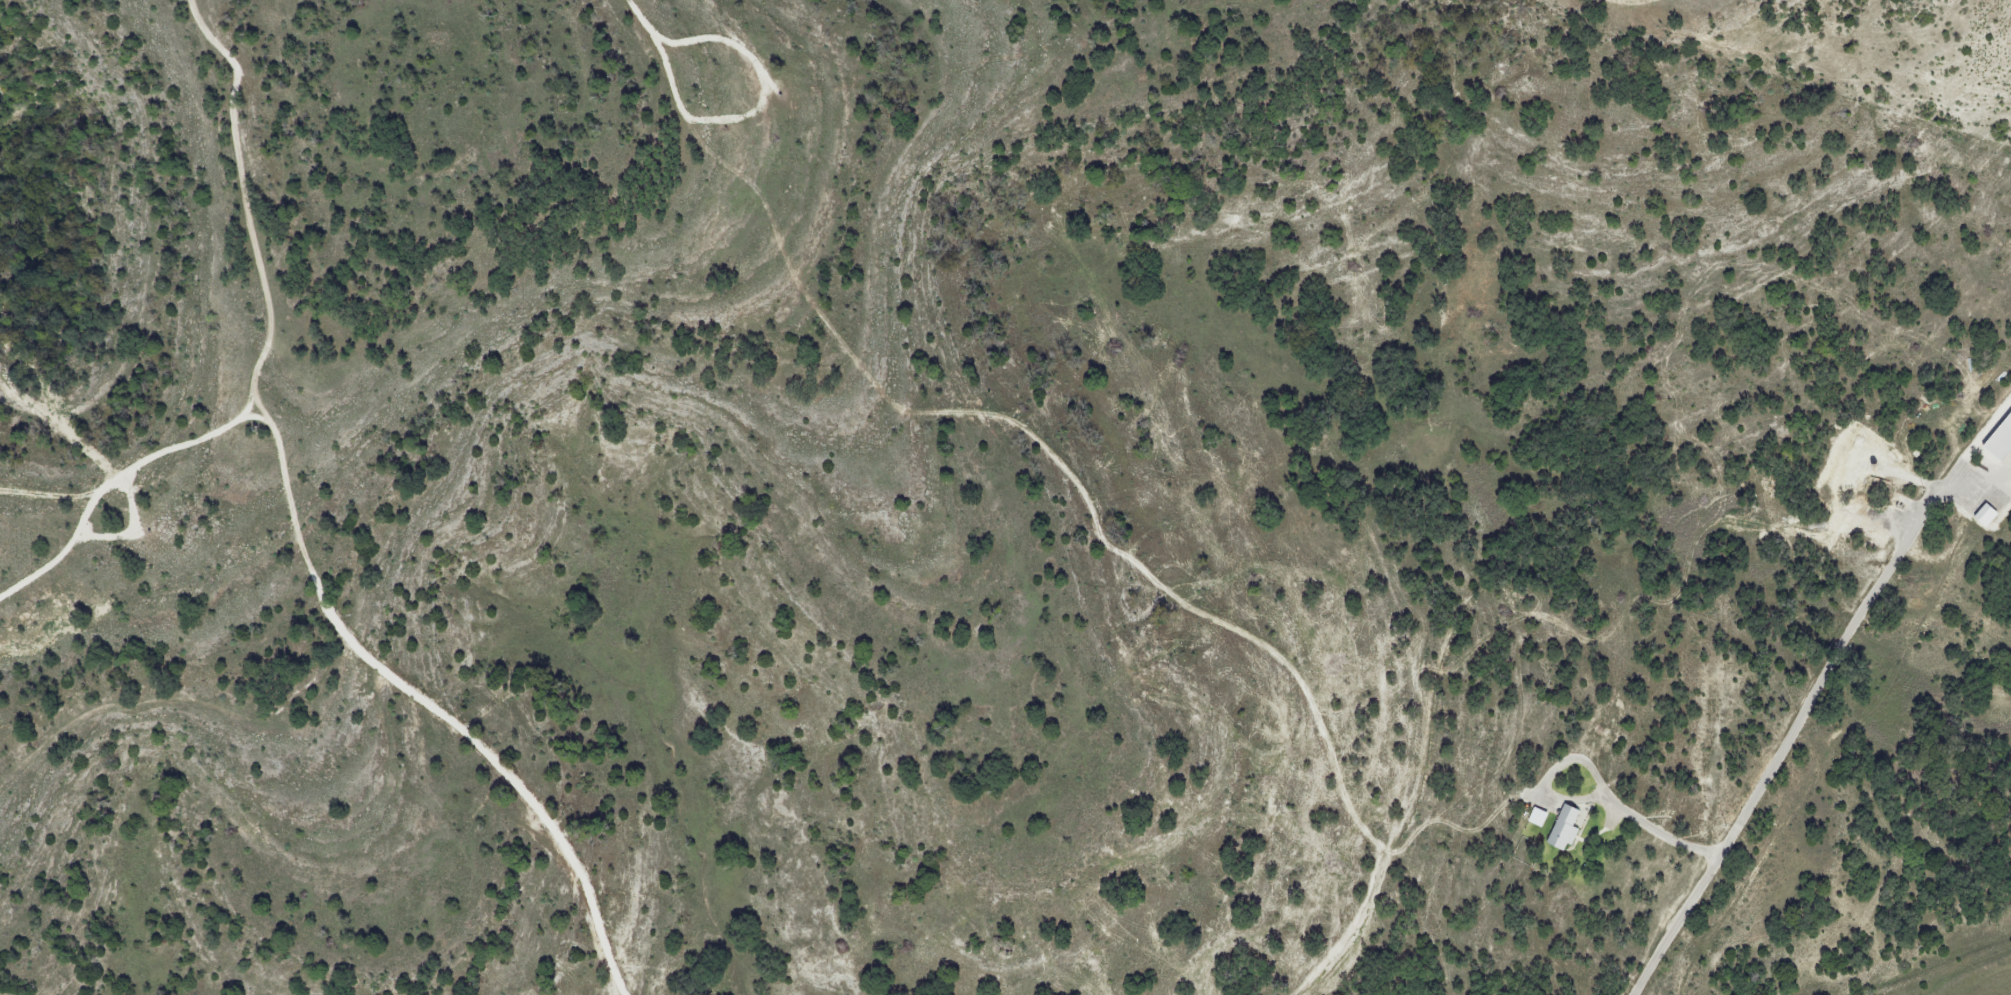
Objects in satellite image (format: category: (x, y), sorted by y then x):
road: (1795, 689)
road: (1599, 785)

